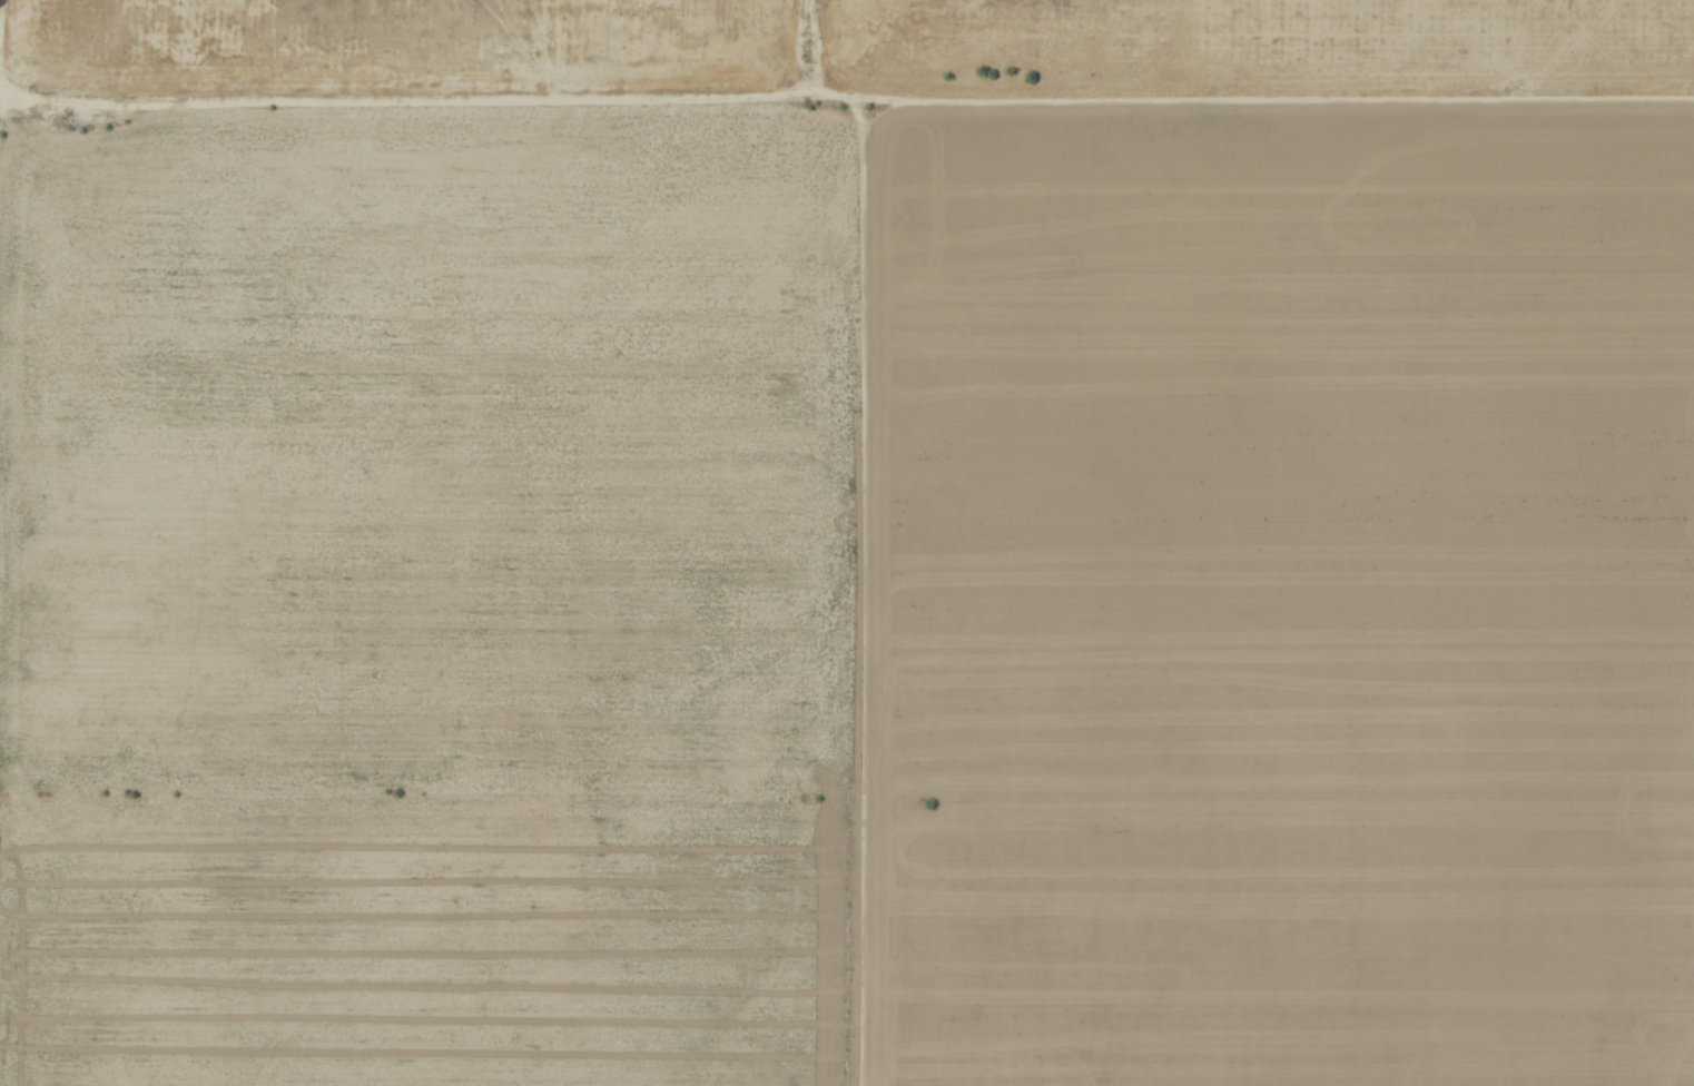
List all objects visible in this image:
crop: (848, 561)

